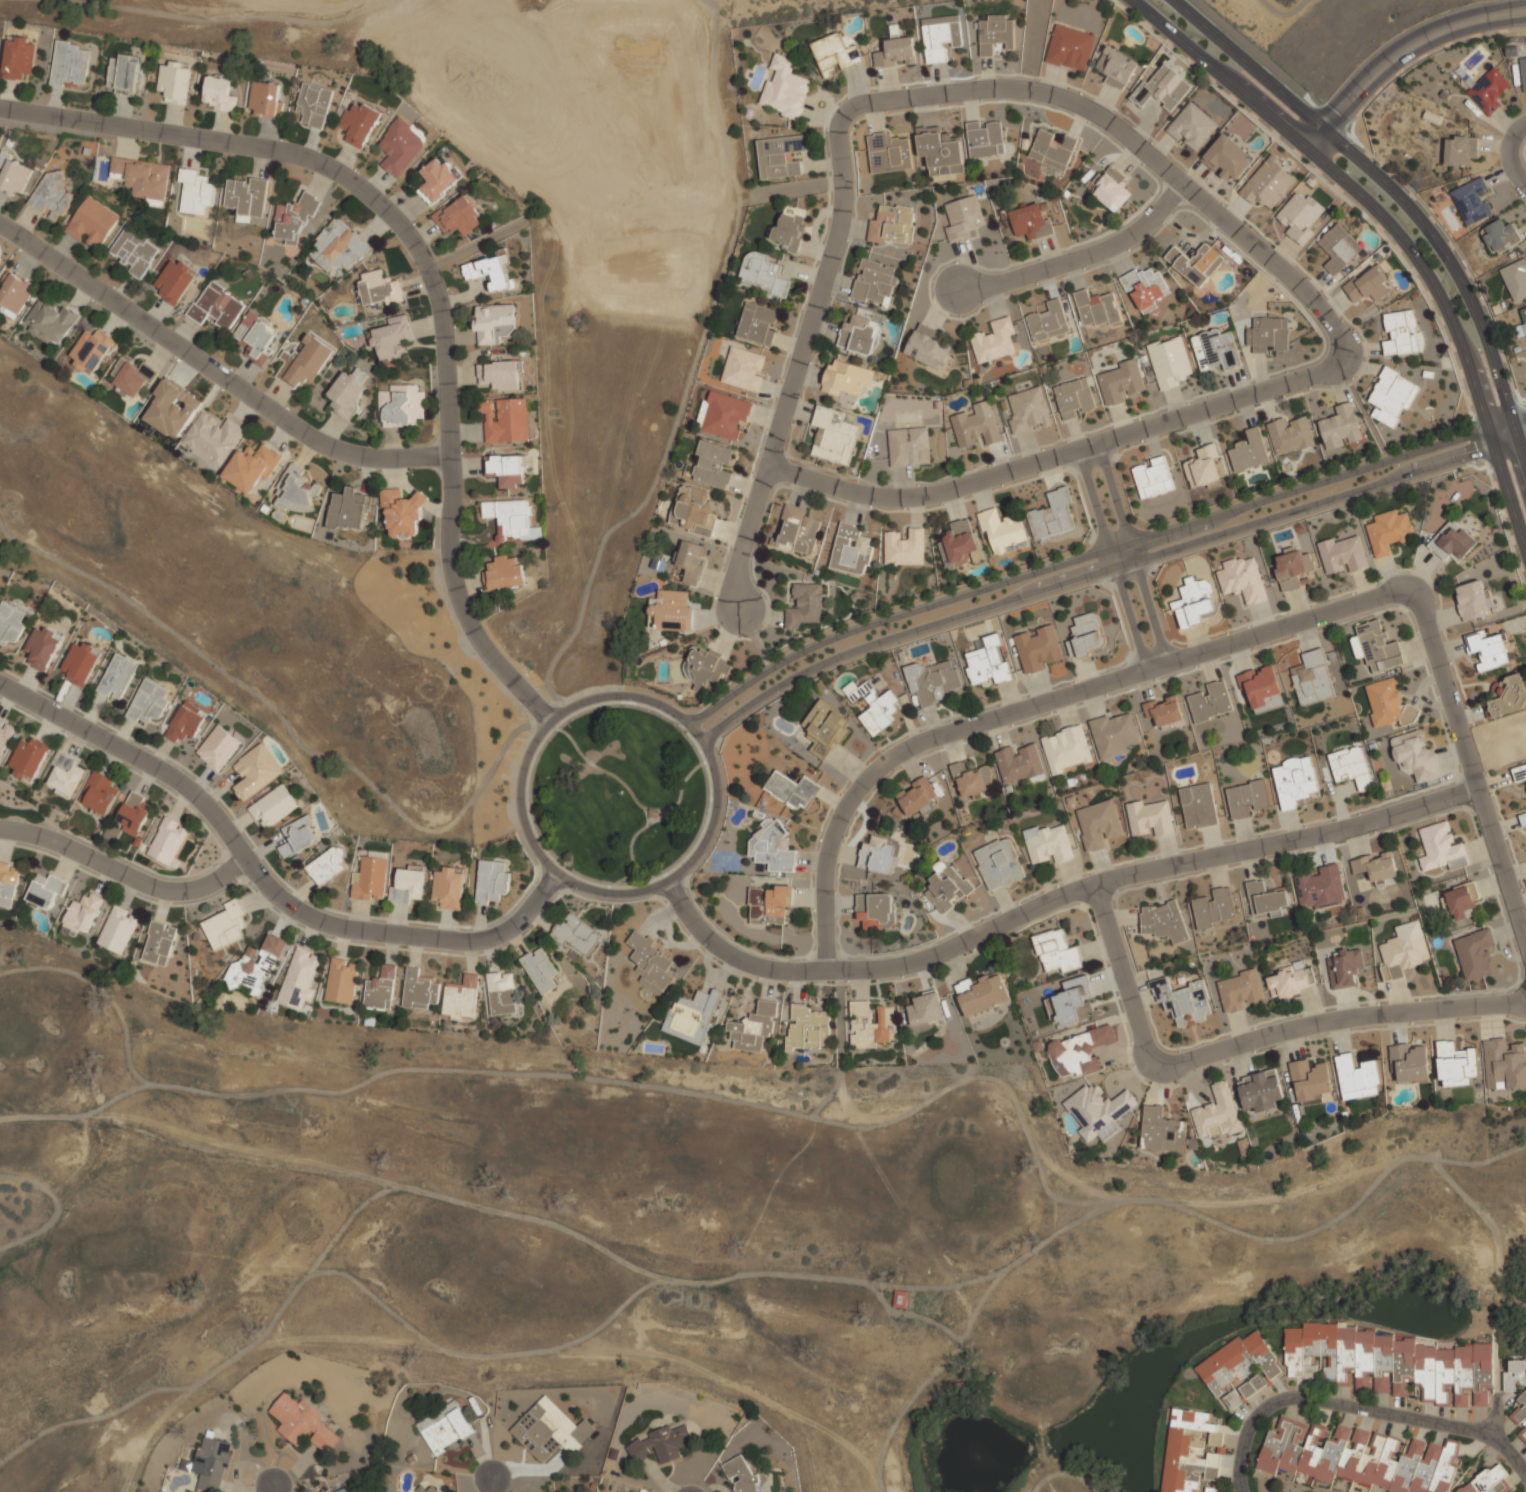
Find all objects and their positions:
park: (1236, 9)
building: (996, 33)
building: (941, 36)
building: (1070, 48)
building: (897, 52)
building: (835, 55)
building: (18, 56)
road: (1405, 59)
building: (70, 63)
building: (1118, 69)
building: (1523, 71)
building: (123, 74)
building: (175, 81)
building: (785, 88)
building: (1163, 88)
building: (1489, 91)
building: (219, 94)
building: (266, 100)
street lamp: (840, 103)
building: (314, 104)
building: (359, 124)
building: (1193, 128)
building: (985, 139)
building: (400, 148)
building: (940, 150)
building: (1053, 150)
building: (1460, 150)
building: (888, 153)
building: (781, 156)
building: (1227, 157)
road: (1519, 157)
building: (14, 175)
building: (142, 177)
building: (437, 181)
building: (1268, 183)
building: (1111, 189)
building: (196, 191)
road: (1398, 194)
street lamp: (1158, 195)
building: (245, 196)
building: (51, 197)
building: (1472, 201)
building: (1300, 215)
building: (458, 216)
building: (964, 217)
road: (1222, 217)
building: (295, 220)
building: (1031, 220)
building: (92, 222)
building: (893, 225)
building: (790, 227)
road: (1391, 227)
building: (1500, 237)
building: (338, 246)
building: (1339, 248)
building: (134, 251)
road: (1083, 257)
building: (1195, 262)
building: (490, 271)
building: (763, 274)
road: (426, 275)
building: (1516, 280)
building: (175, 281)
building: (876, 283)
building: (1367, 283)
building: (379, 288)
building: (1147, 288)
building: (15, 291)
building: (217, 306)
building: (1098, 309)
building: (50, 321)
building: (494, 322)
building: (1049, 322)
building: (758, 323)
building: (1522, 324)
building: (1400, 333)
building: (859, 335)
building: (1269, 335)
building: (257, 336)
building: (392, 338)
building: (995, 341)
building: (927, 347)
building: (1216, 349)
building: (91, 350)
street lamp: (1363, 361)
building: (305, 362)
building: (1171, 362)
building: (744, 369)
road: (215, 372)
building: (500, 375)
building: (132, 376)
building: (847, 378)
building: (1121, 382)
building: (349, 391)
street lamp: (1513, 394)
building: (1392, 397)
building: (1074, 399)
building: (402, 405)
building: (172, 408)
building: (1028, 411)
building: (724, 415)
building: (505, 419)
building: (1341, 427)
building: (976, 428)
building: (1291, 435)
building: (835, 436)
building: (212, 438)
street lamp: (786, 446)
building: (910, 447)
building: (1250, 452)
building: (712, 464)
building: (252, 466)
street lamp: (1116, 466)
building: (1205, 467)
building: (505, 470)
building: (1153, 477)
building: (296, 491)
building: (347, 508)
building: (694, 510)
building: (401, 512)
building: (1053, 517)
building: (512, 520)
street lamp: (1156, 527)
building: (798, 531)
building: (1004, 531)
building: (1390, 532)
road: (745, 537)
building: (1453, 541)
building: (960, 545)
building: (905, 547)
building: (851, 550)
road: (1098, 552)
road: (1133, 553)
building: (1345, 553)
road: (1112, 560)
building: (691, 562)
building: (1293, 569)
road: (1104, 571)
building: (505, 573)
building: (1243, 579)
building: (1474, 600)
building: (1196, 603)
building: (806, 606)
street lamp: (1387, 607)
building: (671, 611)
building: (10, 623)
building: (1086, 635)
building: (1376, 647)
building: (41, 648)
building: (1038, 649)
road: (1213, 650)
building: (1489, 651)
building: (80, 663)
building: (989, 663)
building: (706, 667)
street lamp: (1115, 669)
building: (117, 676)
building: (1313, 679)
building: (933, 681)
building: (1261, 688)
building: (1507, 696)
building: (148, 702)
building: (1211, 702)
building: (1388, 704)
street lamp: (704, 707)
building: (876, 708)
building: (1164, 711)
street lamp: (526, 712)
building: (185, 722)
building: (825, 728)
street lamp: (112, 732)
building: (1116, 734)
building: (5, 737)
building: (217, 747)
building: (1067, 750)
street lamp: (881, 752)
building: (1415, 757)
building: (28, 759)
building: (1020, 763)
building: (1351, 766)
building: (256, 771)
building: (1519, 773)
building: (63, 776)
building: (972, 780)
building: (1295, 781)
building: (792, 790)
building: (99, 794)
road: (631, 796)
building: (917, 797)
building: (1248, 799)
building: (273, 806)
building: (1199, 807)
street lamp: (1455, 808)
building: (134, 814)
building: (1152, 816)
building: (1523, 819)
building: (1098, 824)
building: (297, 836)
building: (168, 840)
building: (1049, 842)
building: (773, 846)
road: (630, 848)
building: (1441, 848)
building: (879, 855)
road: (548, 864)
building: (999, 864)
building: (326, 865)
building: (1377, 867)
street lamp: (693, 870)
road: (124, 874)
building: (369, 878)
building: (491, 881)
road: (267, 882)
building: (7, 884)
building: (407, 885)
road: (610, 885)
building: (946, 886)
street lamp: (253, 887)
building: (447, 888)
street lamp: (1125, 888)
building: (1321, 888)
building: (45, 889)
road: (650, 889)
street lamp: (577, 893)
road: (675, 893)
road: (1054, 899)
building: (1266, 899)
road: (600, 900)
building: (1462, 902)
building: (770, 905)
road: (669, 909)
building: (1215, 909)
building: (876, 911)
road: (660, 915)
road: (538, 916)
road: (539, 917)
building: (1163, 921)
building: (225, 925)
building: (117, 929)
building: (576, 933)
building: (159, 943)
building: (1403, 950)
building: (1056, 952)
building: (1475, 954)
street lamp: (797, 961)
building: (650, 962)
building: (255, 966)
building: (1345, 968)
building: (539, 969)
building: (299, 978)
building: (341, 981)
building: (1291, 983)
building: (381, 989)
building: (419, 990)
building: (1239, 990)
building: (501, 993)
building: (982, 993)
street lamp: (1500, 993)
building: (461, 998)
building: (1070, 1002)
building: (1183, 1002)
building: (925, 1008)
building: (692, 1015)
building: (868, 1025)
building: (753, 1027)
building: (807, 1028)
road: (1248, 1042)
building: (1079, 1051)
street lamp: (1184, 1051)
building: (1409, 1063)
building: (1504, 1064)
building: (1455, 1065)
building: (1356, 1078)
building: (1310, 1081)
building: (1260, 1091)
building: (1098, 1111)
building: (1216, 1113)
building: (1160, 1131)
building: (1236, 1363)
building: (1393, 1364)
building: (1252, 1385)
building: (1517, 1388)
building: (1232, 1399)
road: (1358, 1408)
road: (1497, 1417)
building: (303, 1423)
building: (444, 1427)
building: (550, 1430)
building: (1522, 1434)
building: (661, 1444)
building: (1189, 1450)
building: (1357, 1457)
building: (211, 1462)
building: (741, 1475)
building: (1492, 1482)
road: (491, 1485)
road: (274, 1489)
building: (345, 1489)
building: (432, 1489)
building: (1211, 1489)

